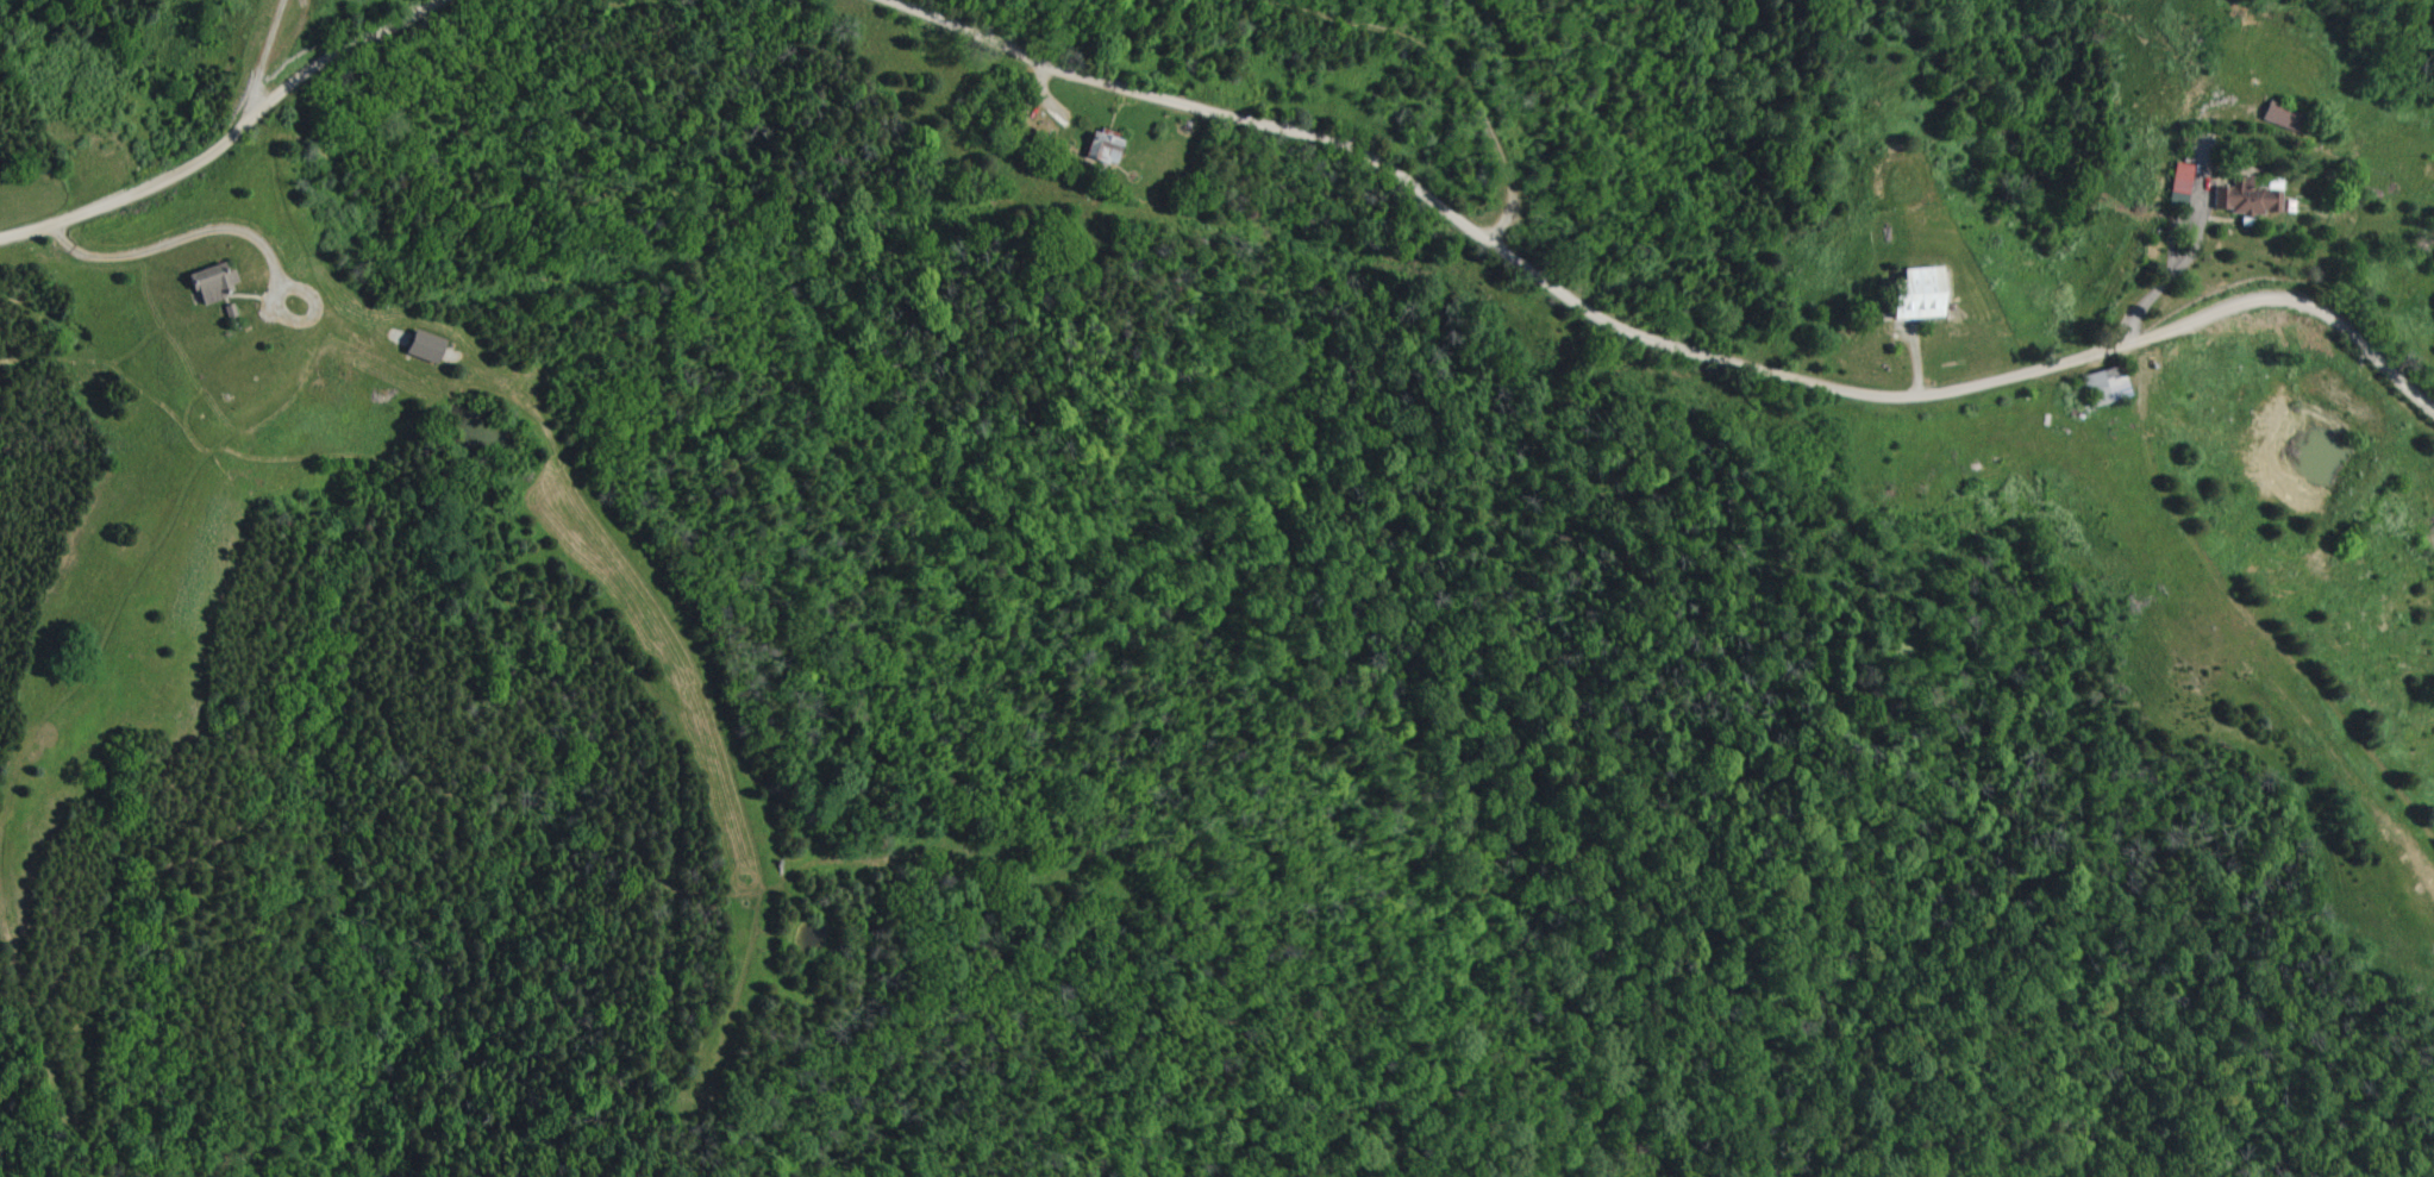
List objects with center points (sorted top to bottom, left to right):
road: (270, 60)
building: (1093, 145)
road: (226, 152)
building: (2175, 183)
building: (2242, 200)
road: (182, 246)
building: (206, 282)
building: (1910, 294)
building: (418, 345)
road: (1645, 355)
building: (2101, 388)

